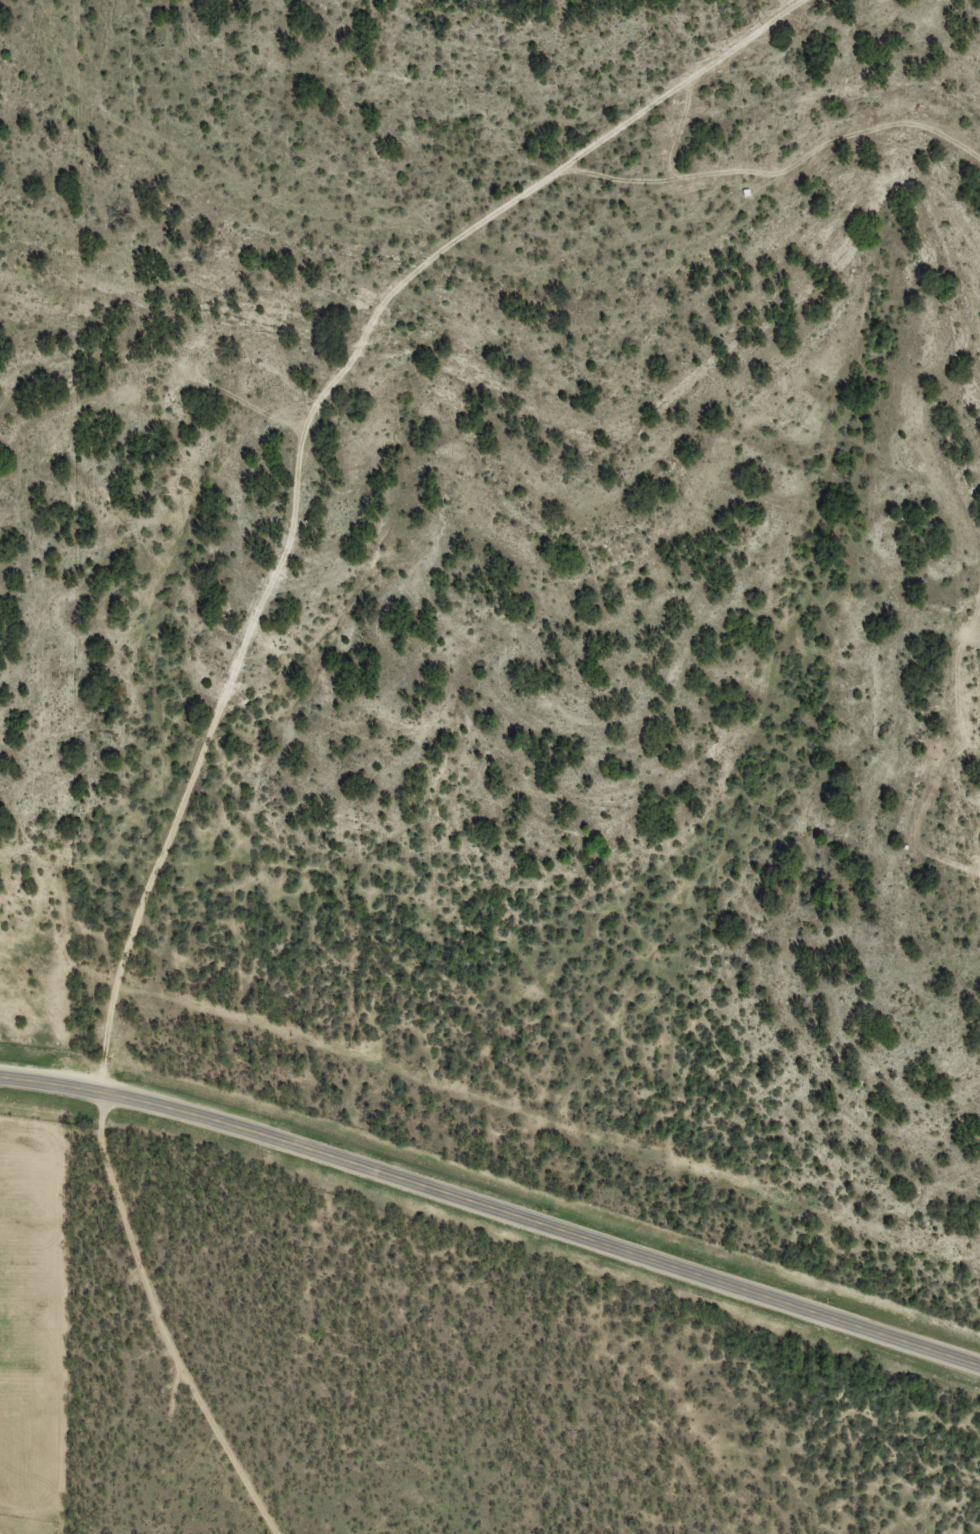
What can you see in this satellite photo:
road: (270, 706)
road: (491, 1214)

